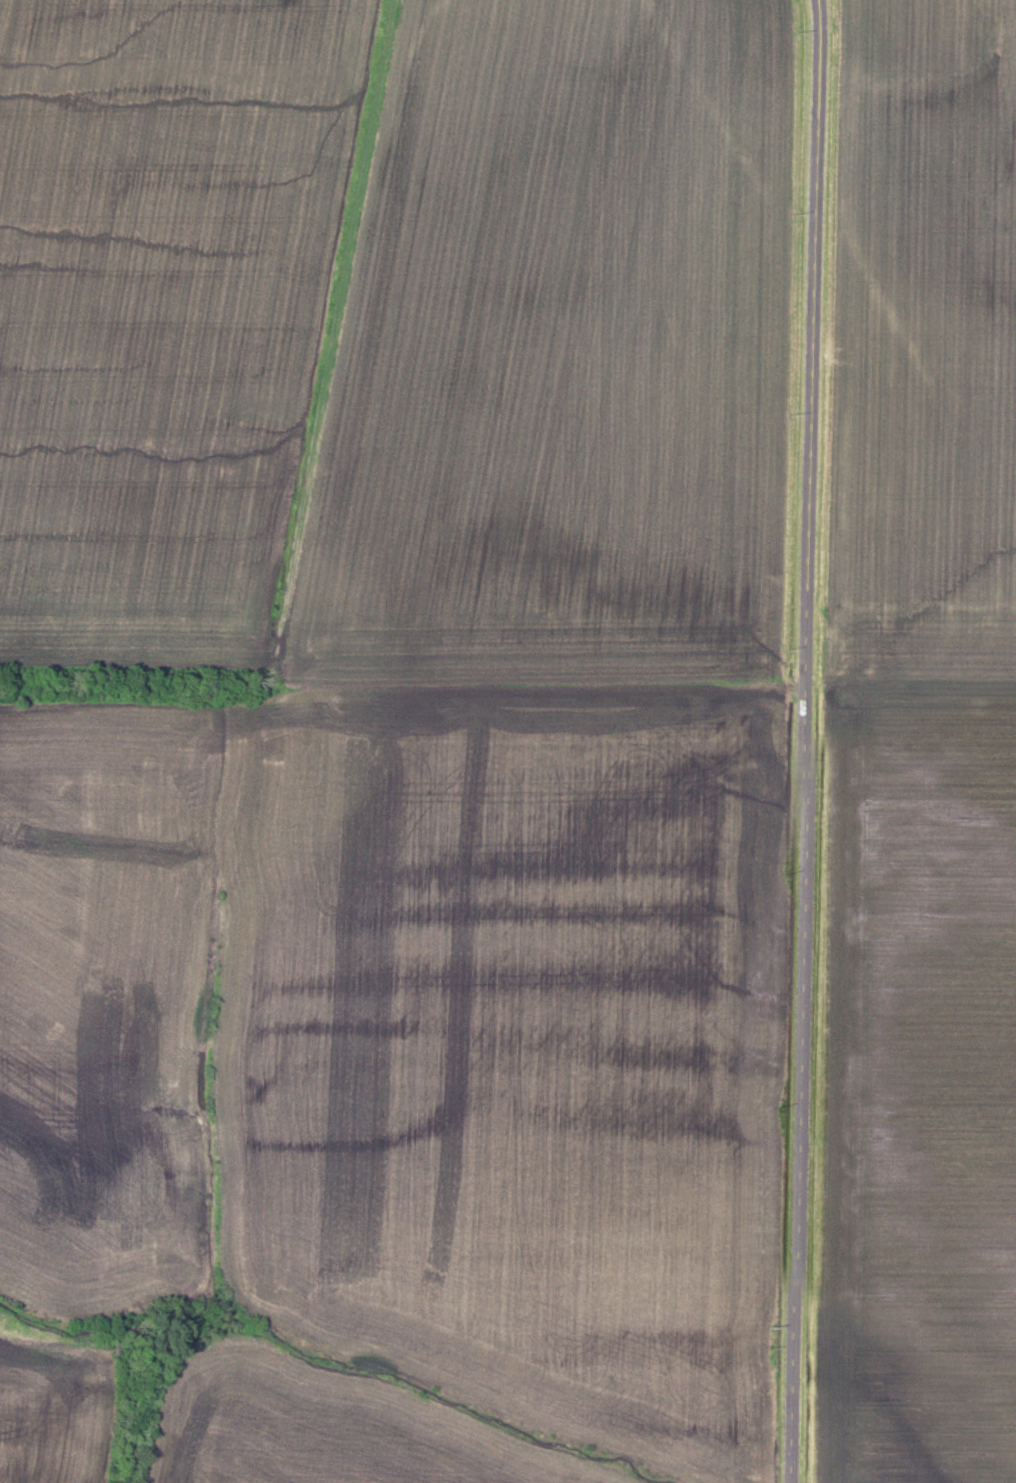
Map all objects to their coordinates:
road: (805, 741)

